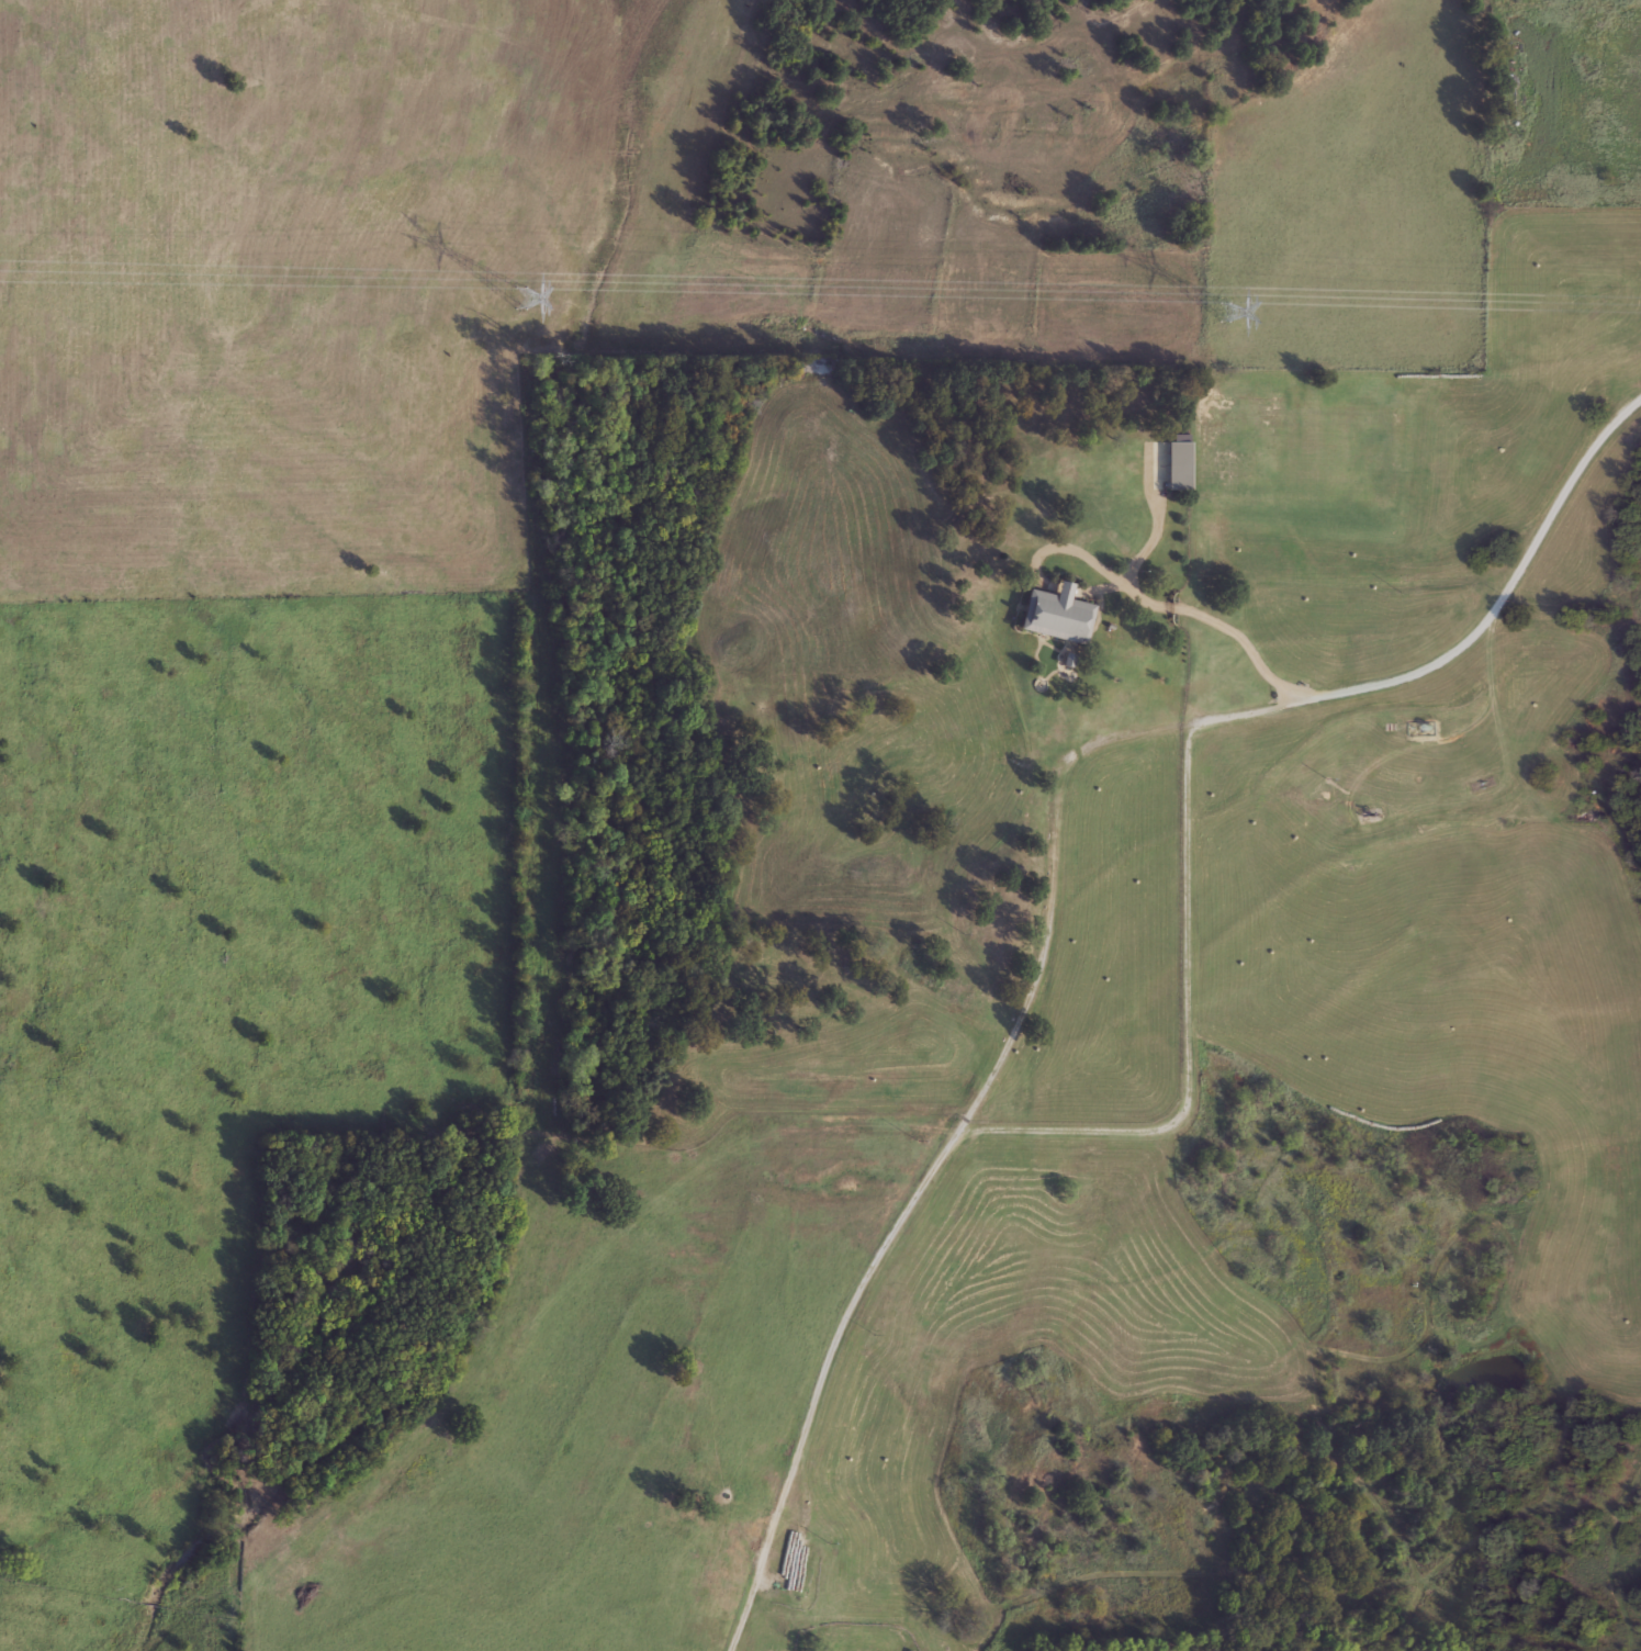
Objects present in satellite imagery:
power tower: (521, 295)
power tower: (1222, 311)
building: (1176, 462)
road: (1159, 527)
road: (1218, 625)
road: (1052, 899)
road: (1188, 1024)

